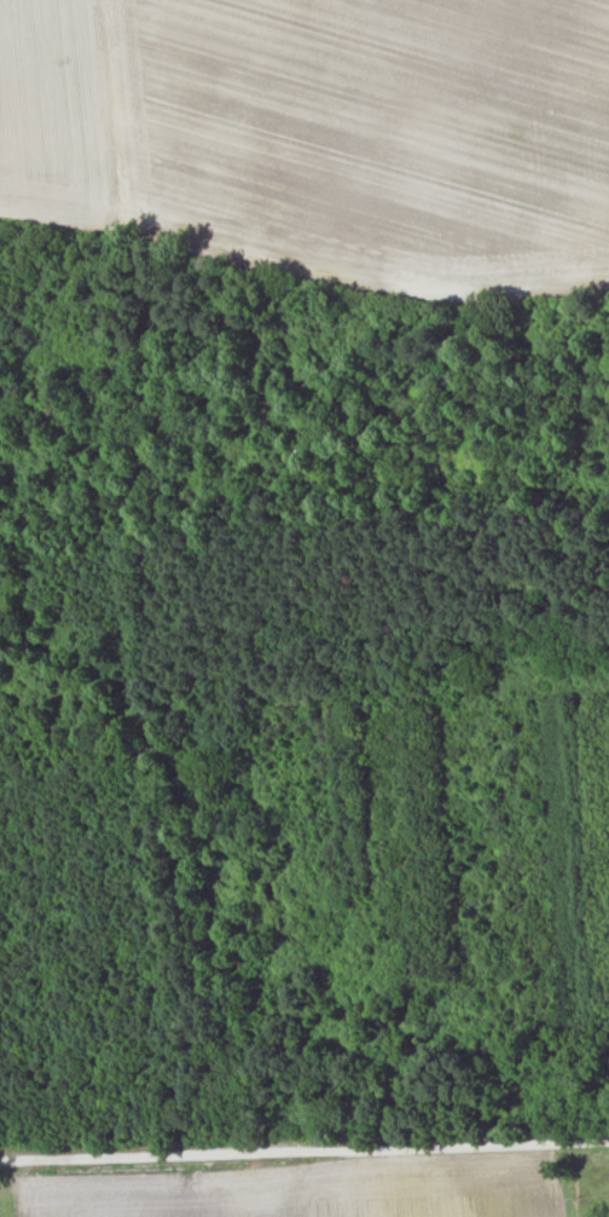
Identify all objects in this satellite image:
road: (478, 1142)

